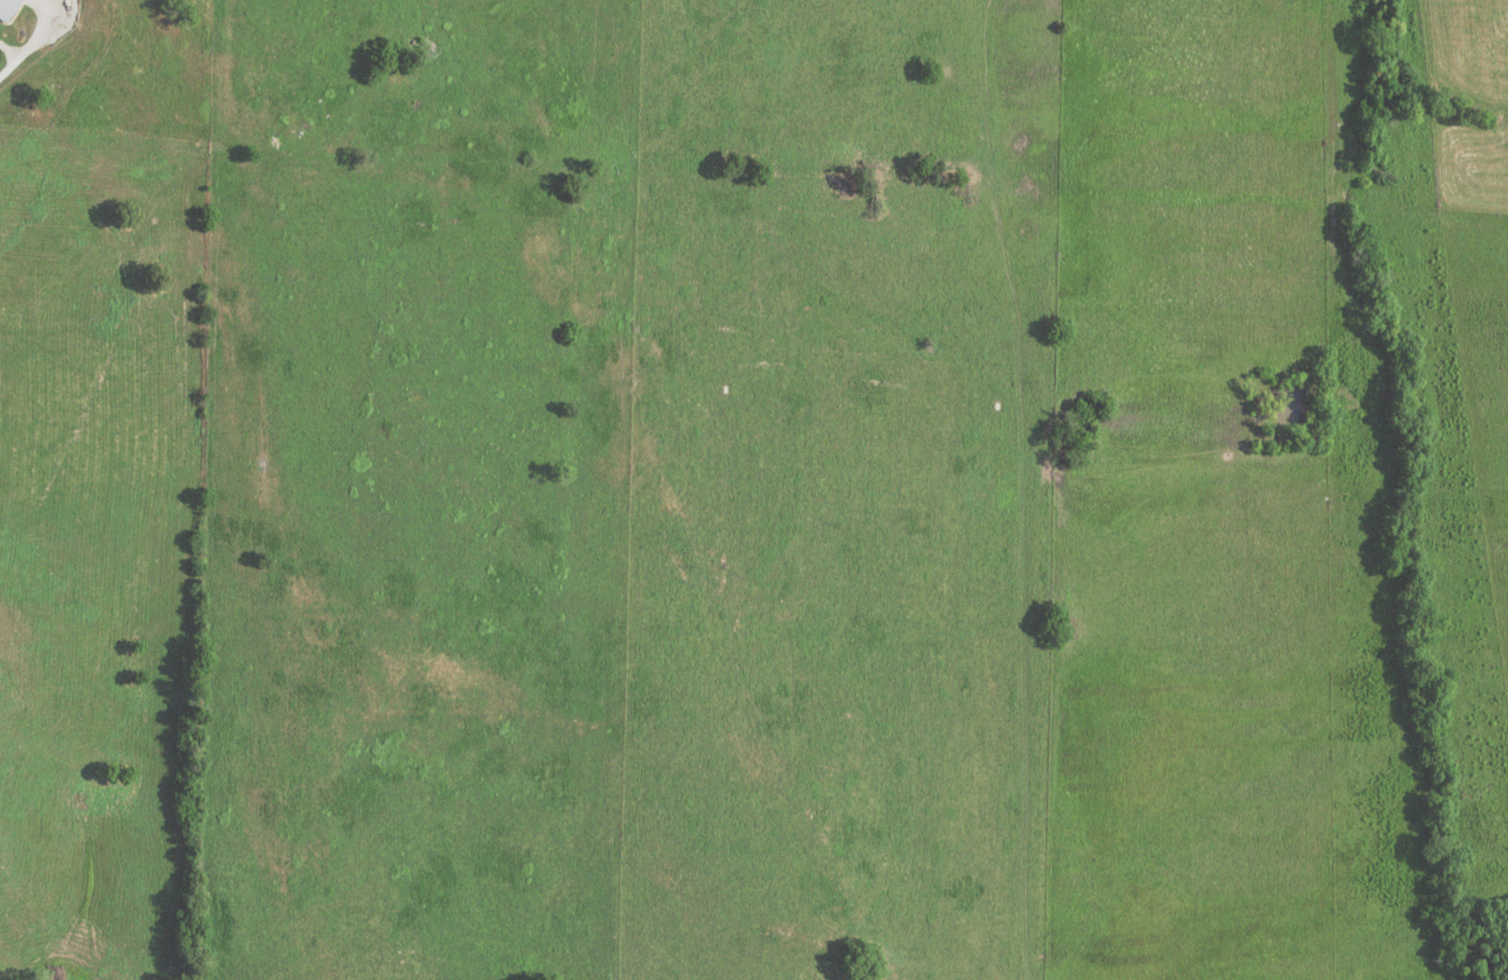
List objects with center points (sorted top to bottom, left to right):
building: (8, 9)
road: (30, 38)
road: (1328, 74)

